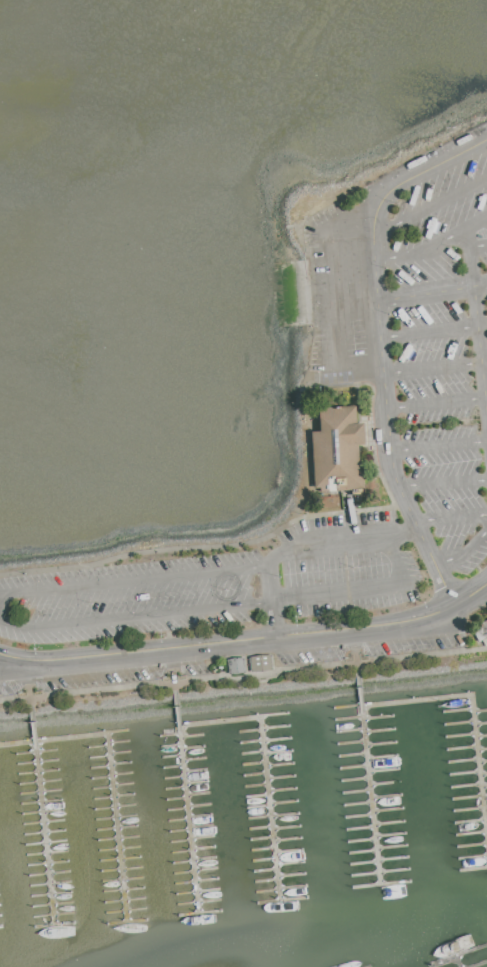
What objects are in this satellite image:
road: (430, 205)
road: (432, 245)
road: (469, 246)
road: (471, 268)
road: (328, 284)
road: (432, 293)
road: (433, 330)
road: (380, 348)
road: (479, 352)
road: (434, 366)
road: (486, 397)
road: (435, 404)
road: (437, 443)
building: (338, 450)
road: (443, 481)
road: (451, 518)
road: (206, 546)
road: (464, 554)
road: (400, 574)
road: (269, 586)
road: (0, 616)
road: (0, 618)
building: (482, 631)
road: (247, 639)
building: (261, 663)
building: (237, 665)
road: (243, 676)
road: (359, 676)
pier: (485, 686)
road: (177, 696)
pier: (472, 697)
road: (33, 711)
pier: (271, 764)
pier: (116, 772)
pier: (370, 786)
pier: (188, 809)
pier: (44, 824)
pier: (464, 962)

